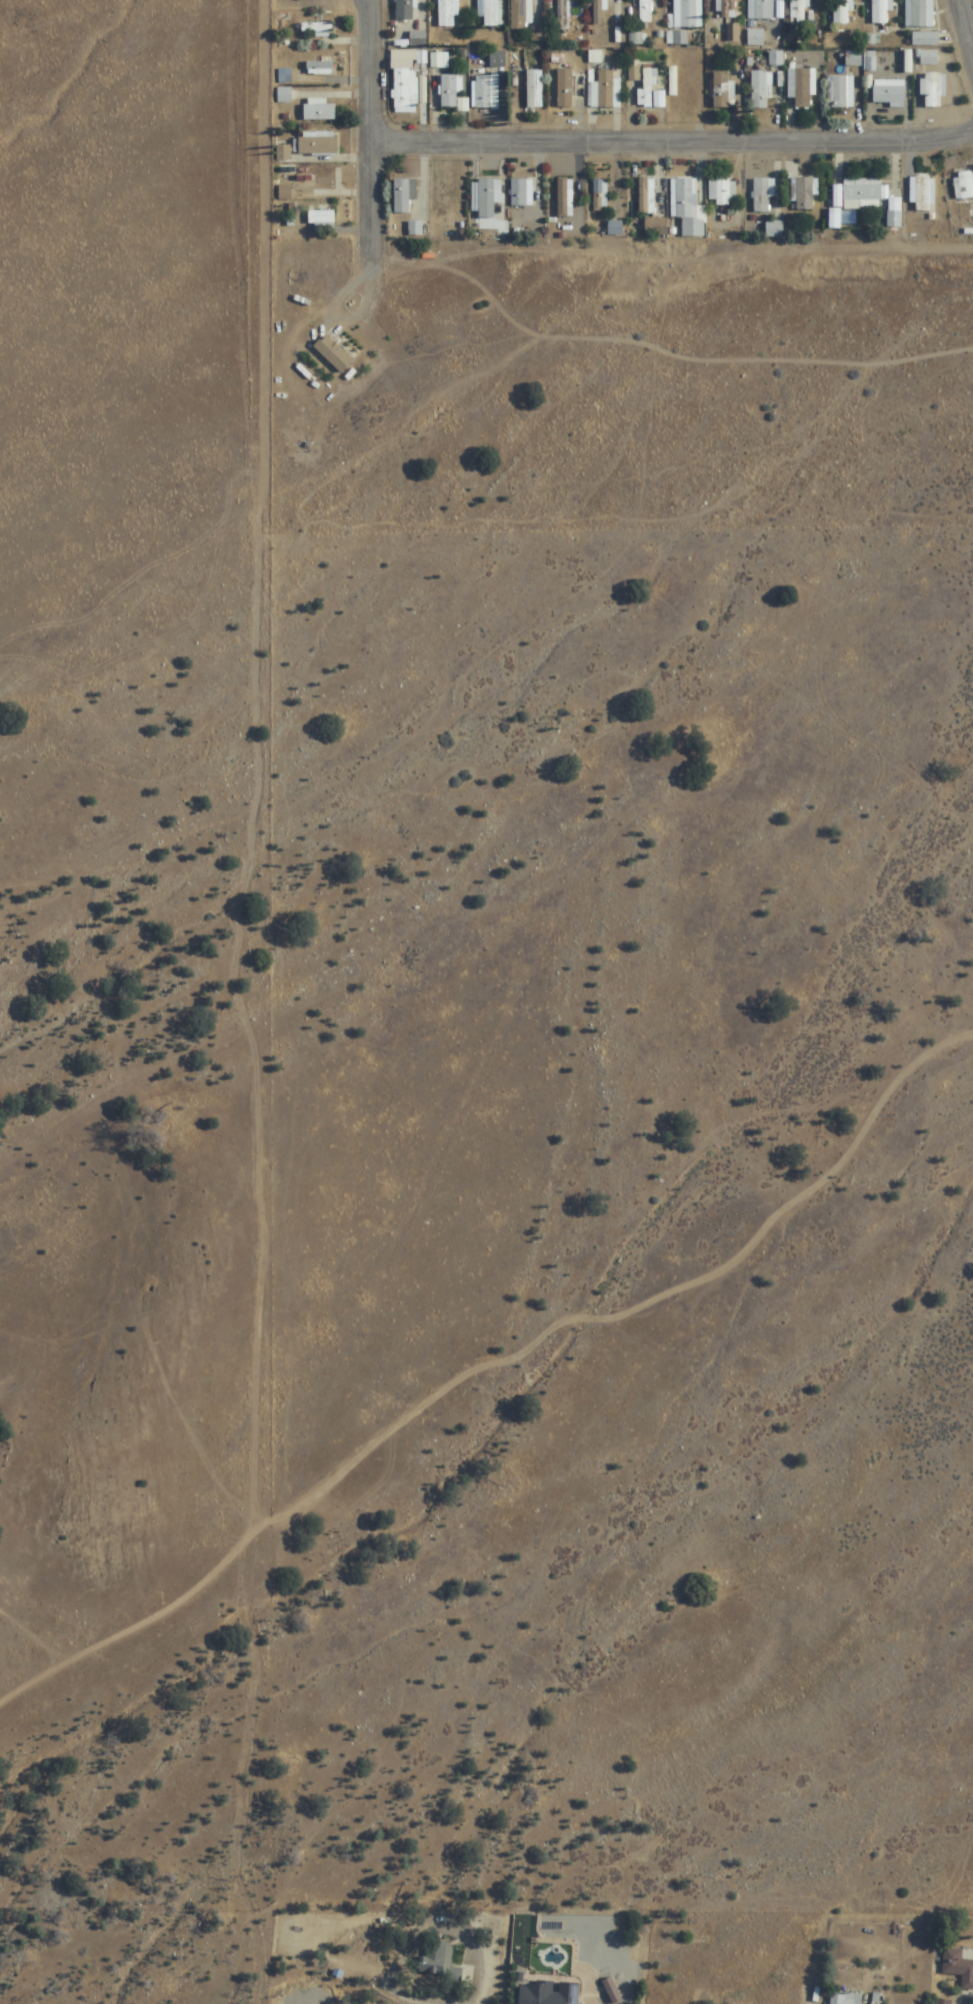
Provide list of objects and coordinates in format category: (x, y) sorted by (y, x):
road: (372, 5)
building: (726, 9)
building: (404, 10)
building: (762, 10)
building: (645, 11)
building: (797, 11)
building: (841, 11)
building: (880, 11)
building: (599, 12)
building: (447, 13)
building: (490, 13)
building: (687, 14)
building: (917, 14)
building: (562, 15)
building: (525, 20)
road: (966, 24)
building: (732, 33)
building: (636, 38)
building: (677, 38)
building: (755, 38)
building: (925, 39)
building: (926, 57)
building: (775, 58)
building: (497, 59)
building: (853, 59)
building: (869, 61)
building: (319, 68)
building: (284, 75)
building: (405, 81)
building: (672, 81)
building: (648, 86)
building: (800, 87)
building: (564, 88)
building: (534, 89)
building: (603, 89)
building: (720, 89)
building: (759, 90)
building: (932, 90)
building: (485, 91)
building: (840, 91)
building: (448, 92)
building: (889, 93)
building: (284, 95)
building: (319, 111)
road: (378, 135)
building: (317, 143)
road: (676, 145)
building: (965, 185)
building: (723, 192)
building: (520, 193)
building: (922, 193)
building: (600, 194)
building: (762, 194)
building: (804, 194)
building: (861, 194)
building: (404, 195)
building: (646, 195)
building: (563, 198)
building: (486, 199)
building: (687, 207)
building: (322, 221)
building: (654, 227)
building: (614, 228)
building: (774, 229)
building: (333, 354)
road: (515, 993)
building: (440, 1961)
building: (958, 1967)
building: (548, 1993)
building: (845, 1999)
building: (941, 2002)

